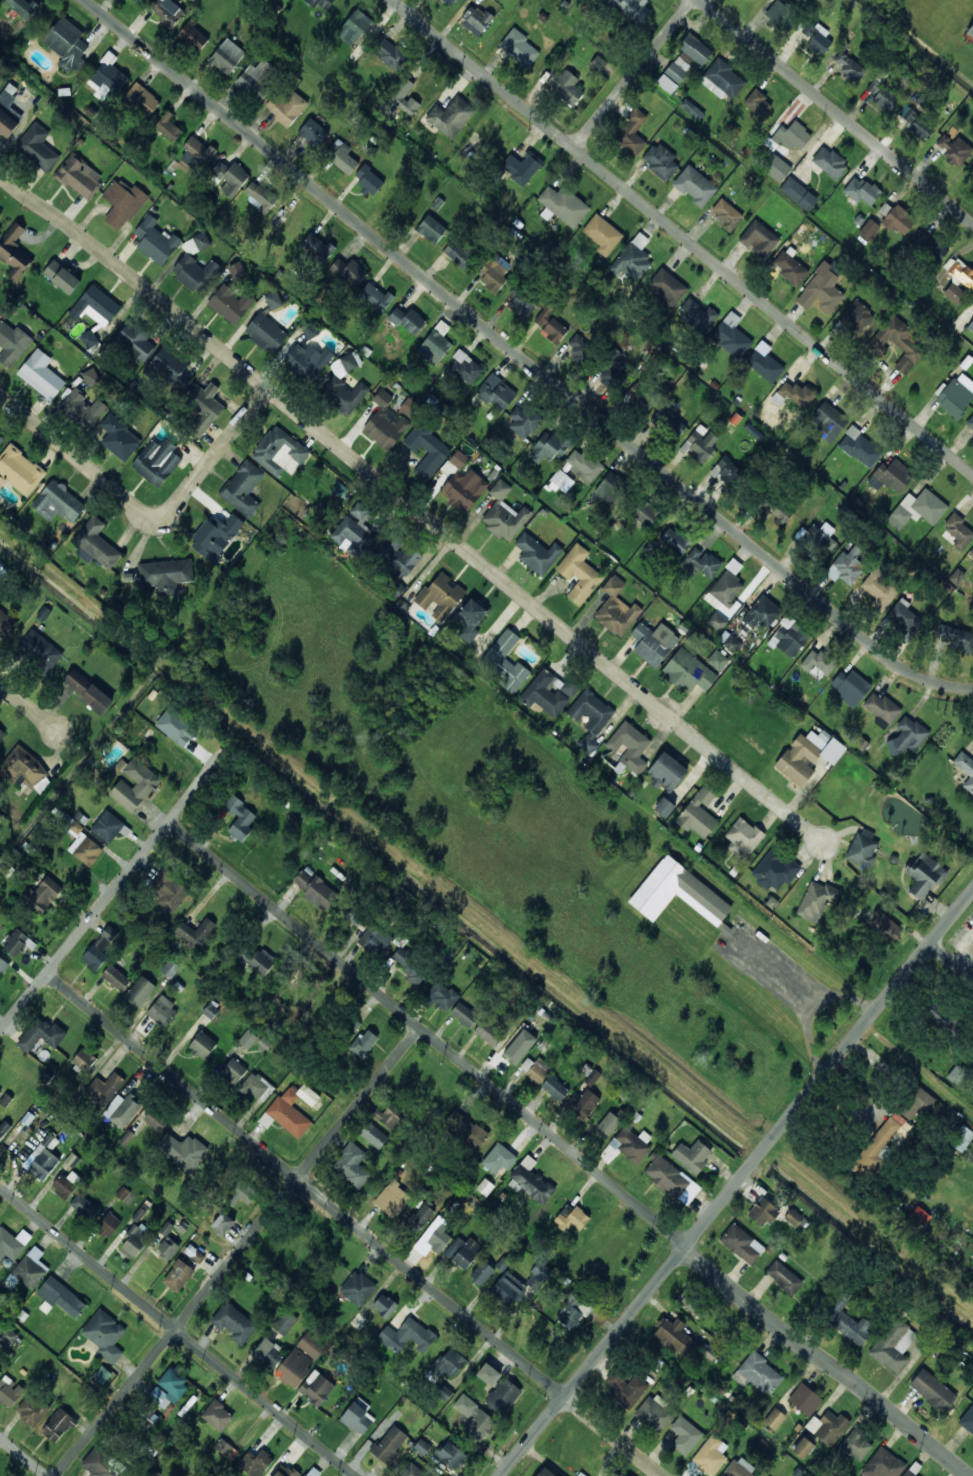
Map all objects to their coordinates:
building: (753, 0)
building: (138, 1)
building: (450, 2)
building: (320, 3)
building: (22, 7)
building: (632, 8)
building: (167, 11)
building: (780, 16)
building: (476, 19)
building: (354, 27)
building: (970, 30)
building: (193, 36)
building: (817, 38)
building: (67, 44)
building: (519, 48)
building: (389, 53)
building: (227, 56)
building: (684, 62)
building: (598, 64)
building: (850, 67)
road: (634, 73)
building: (108, 76)
building: (256, 79)
building: (722, 80)
building: (565, 86)
building: (874, 87)
building: (142, 99)
building: (401, 99)
building: (885, 99)
building: (758, 103)
building: (286, 107)
building: (692, 109)
road: (836, 111)
building: (451, 117)
building: (916, 123)
building: (169, 128)
building: (313, 132)
building: (633, 133)
building: (793, 135)
building: (37, 147)
building: (954, 149)
building: (197, 154)
building: (344, 158)
building: (661, 161)
building: (830, 162)
building: (522, 167)
building: (776, 168)
building: (972, 172)
building: (79, 175)
building: (231, 177)
building: (369, 179)
building: (692, 187)
building: (861, 190)
building: (798, 194)
building: (260, 196)
building: (123, 203)
building: (563, 206)
building: (726, 214)
building: (0, 215)
building: (899, 220)
building: (431, 229)
building: (869, 229)
building: (603, 235)
road: (683, 236)
building: (759, 239)
building: (156, 241)
building: (929, 246)
building: (317, 247)
building: (15, 252)
building: (460, 255)
building: (633, 258)
building: (195, 265)
building: (791, 267)
building: (237, 270)
building: (960, 271)
building: (349, 272)
building: (494, 273)
building: (62, 277)
building: (667, 287)
building: (822, 291)
building: (955, 293)
building: (376, 296)
building: (274, 300)
building: (522, 301)
building: (95, 304)
building: (231, 304)
building: (698, 314)
building: (856, 315)
building: (544, 317)
building: (408, 320)
building: (970, 324)
building: (309, 331)
building: (554, 331)
building: (266, 333)
building: (95, 336)
building: (732, 336)
building: (12, 343)
building: (135, 343)
building: (900, 344)
building: (580, 350)
road: (523, 357)
building: (308, 361)
building: (765, 363)
building: (465, 367)
building: (171, 371)
building: (613, 374)
building: (41, 375)
building: (91, 376)
building: (343, 386)
building: (797, 394)
building: (498, 395)
building: (956, 395)
building: (203, 407)
building: (83, 408)
building: (409, 408)
building: (523, 422)
building: (829, 422)
building: (970, 422)
building: (385, 423)
building: (668, 423)
building: (972, 435)
building: (119, 438)
building: (1, 440)
building: (700, 444)
building: (550, 446)
building: (860, 448)
building: (278, 450)
building: (427, 450)
building: (157, 461)
building: (583, 465)
building: (19, 471)
building: (726, 471)
building: (891, 476)
building: (560, 478)
building: (461, 482)
building: (611, 488)
building: (244, 489)
building: (58, 502)
road: (412, 505)
building: (918, 509)
road: (143, 510)
building: (777, 511)
building: (360, 512)
building: (646, 513)
building: (504, 514)
building: (957, 532)
building: (216, 536)
building: (352, 536)
building: (818, 538)
building: (675, 541)
building: (96, 544)
building: (537, 553)
building: (971, 553)
building: (704, 562)
building: (398, 563)
building: (846, 567)
building: (579, 574)
building: (165, 576)
building: (880, 587)
building: (725, 590)
building: (440, 596)
building: (616, 609)
building: (760, 610)
building: (904, 616)
building: (470, 619)
building: (717, 621)
building: (5, 624)
building: (957, 637)
building: (790, 638)
building: (729, 641)
building: (653, 643)
building: (40, 650)
building: (717, 660)
building: (820, 661)
building: (506, 662)
building: (688, 672)
building: (850, 687)
building: (88, 691)
building: (549, 692)
road: (29, 707)
building: (882, 710)
building: (591, 717)
building: (176, 728)
building: (1, 735)
building: (907, 736)
building: (630, 746)
building: (808, 756)
building: (25, 768)
building: (965, 769)
building: (667, 772)
building: (135, 786)
building: (664, 807)
building: (699, 813)
building: (240, 818)
building: (108, 826)
building: (743, 838)
building: (79, 839)
building: (863, 849)
building: (776, 870)
building: (925, 875)
road: (113, 890)
building: (317, 890)
building: (169, 891)
building: (678, 893)
building: (42, 895)
building: (817, 900)
building: (357, 915)
building: (887, 926)
building: (196, 932)
building: (375, 939)
building: (100, 948)
building: (257, 960)
road: (952, 960)
building: (3, 966)
building: (410, 967)
building: (170, 969)
building: (116, 978)
building: (140, 991)
building: (441, 996)
building: (211, 1011)
building: (163, 1012)
building: (465, 1015)
building: (942, 1018)
building: (352, 1026)
building: (489, 1033)
building: (42, 1034)
road: (427, 1035)
building: (247, 1039)
building: (364, 1043)
building: (202, 1045)
building: (512, 1050)
building: (84, 1060)
building: (972, 1063)
building: (536, 1069)
building: (233, 1071)
building: (592, 1077)
building: (254, 1085)
building: (555, 1087)
building: (105, 1088)
building: (0, 1094)
building: (308, 1095)
building: (584, 1104)
building: (915, 1104)
building: (123, 1109)
building: (289, 1113)
building: (390, 1115)
building: (155, 1120)
building: (609, 1124)
building: (466, 1128)
building: (4, 1129)
building: (373, 1135)
building: (127, 1137)
building: (961, 1138)
building: (883, 1141)
building: (632, 1144)
building: (183, 1151)
building: (692, 1156)
building: (45, 1157)
building: (499, 1159)
building: (352, 1165)
building: (667, 1177)
building: (532, 1180)
building: (66, 1184)
road: (736, 1184)
road: (306, 1185)
building: (242, 1193)
building: (83, 1205)
building: (764, 1212)
building: (920, 1216)
building: (793, 1217)
building: (419, 1218)
building: (573, 1219)
building: (223, 1224)
building: (109, 1225)
building: (166, 1228)
building: (740, 1237)
building: (439, 1239)
building: (136, 1240)
building: (13, 1243)
building: (168, 1248)
road: (237, 1251)
building: (463, 1252)
building: (194, 1254)
building: (31, 1268)
building: (482, 1272)
building: (178, 1275)
building: (538, 1276)
building: (784, 1277)
building: (357, 1288)
building: (509, 1289)
building: (61, 1297)
building: (692, 1304)
building: (385, 1305)
building: (570, 1311)
building: (847, 1321)
building: (285, 1322)
building: (234, 1323)
road: (179, 1330)
building: (105, 1335)
building: (407, 1336)
building: (674, 1336)
building: (8, 1337)
building: (893, 1345)
building: (311, 1346)
building: (1, 1350)
building: (267, 1352)
building: (710, 1352)
road: (825, 1362)
building: (449, 1363)
building: (295, 1367)
building: (0, 1372)
building: (489, 1374)
building: (758, 1374)
building: (101, 1376)
building: (168, 1388)
building: (316, 1388)
building: (627, 1389)
building: (932, 1390)
building: (9, 1392)
building: (503, 1396)
building: (805, 1399)
building: (32, 1410)
building: (654, 1413)
building: (149, 1415)
building: (217, 1415)
building: (358, 1416)
building: (474, 1418)
building: (775, 1419)
building: (967, 1421)
building: (58, 1425)
building: (828, 1427)
road: (613, 1436)
building: (685, 1436)
building: (389, 1444)
building: (856, 1445)
building: (803, 1448)
building: (226, 1449)
road: (25, 1455)
building: (451, 1455)
building: (711, 1456)
building: (255, 1463)
building: (883, 1464)
building: (102, 1465)
building: (740, 1468)
building: (913, 1469)
building: (286, 1471)
building: (413, 1471)
building: (313, 1472)
building: (545, 1472)
building: (622, 1474)

